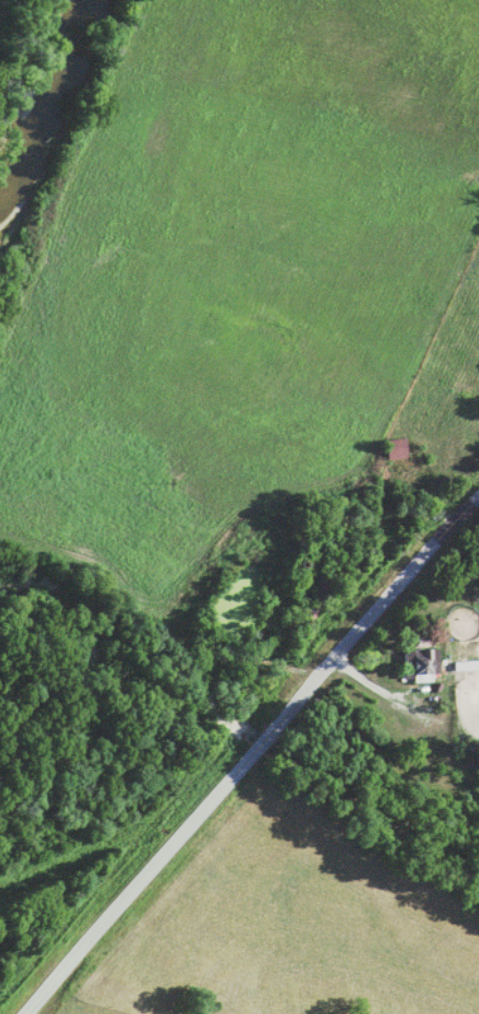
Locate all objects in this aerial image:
crop: (5, 13)
river: (57, 102)
building: (393, 450)
road: (442, 579)
building: (419, 665)
building: (465, 666)
road: (249, 753)

